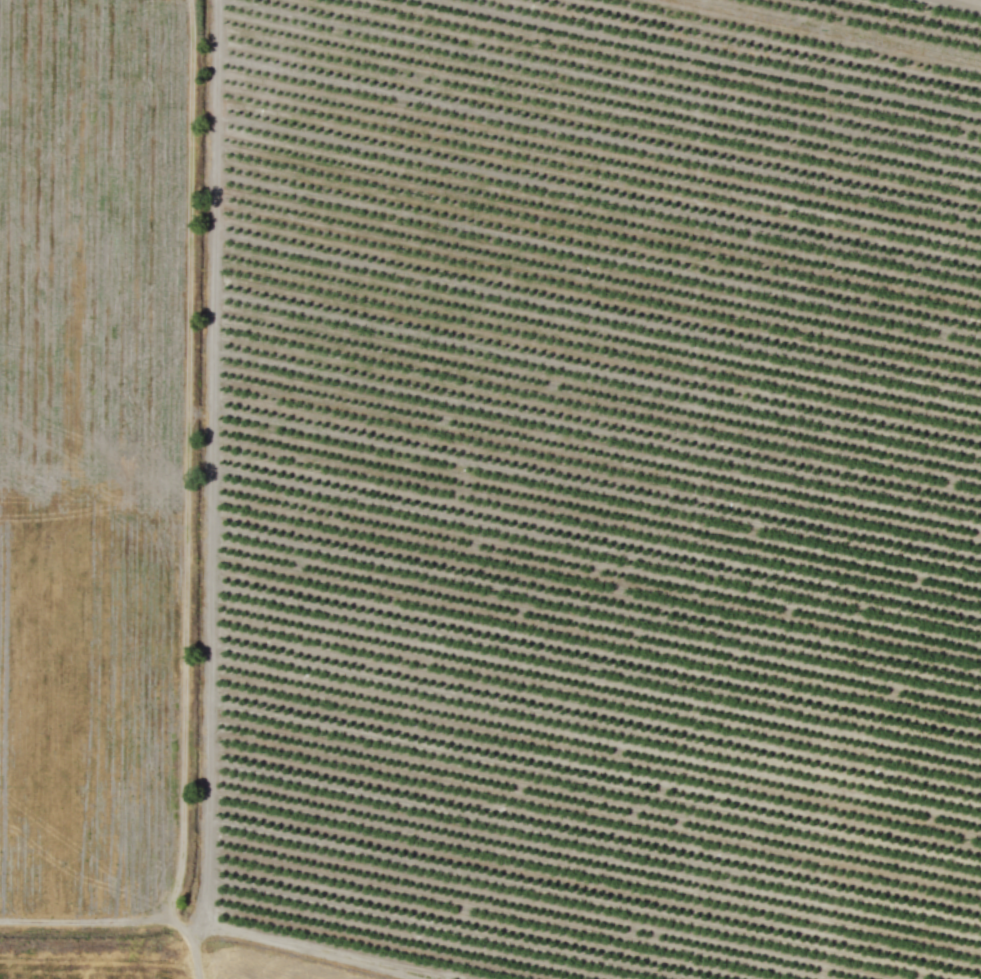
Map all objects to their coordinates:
road: (976, 0)

